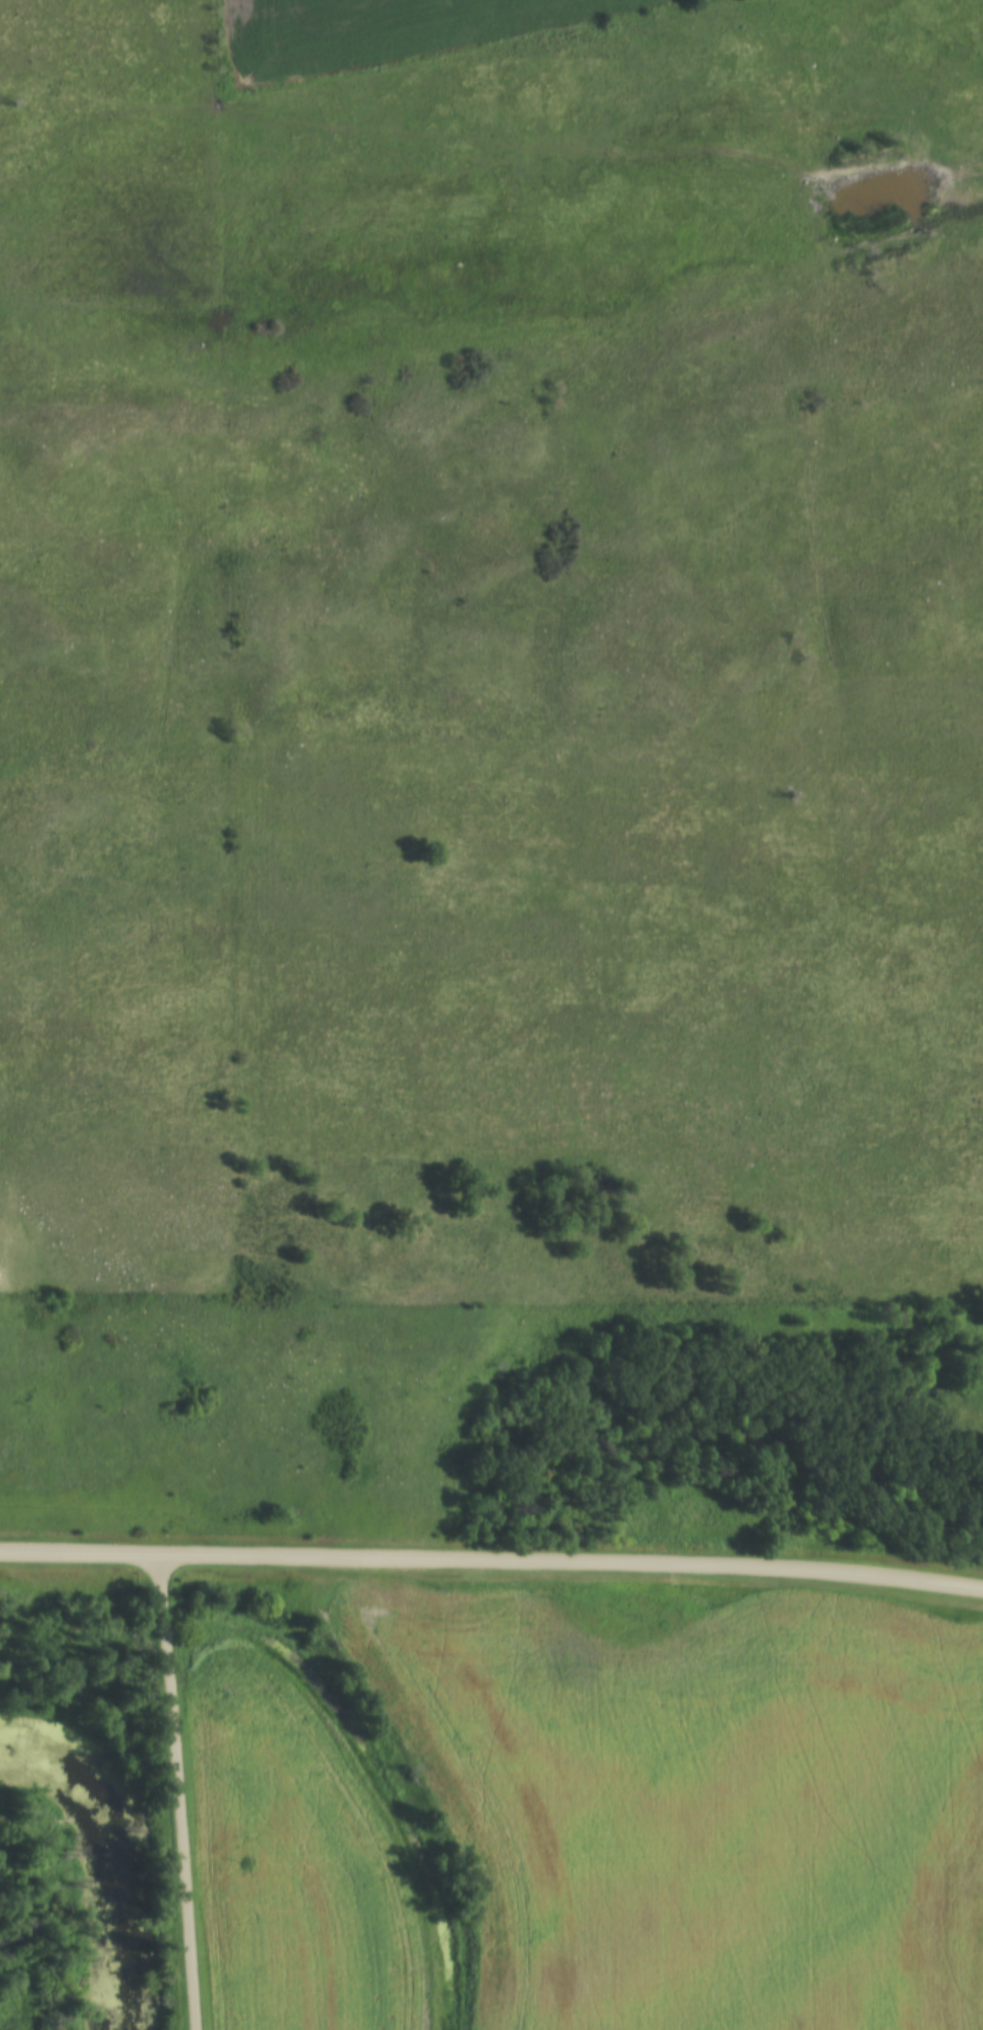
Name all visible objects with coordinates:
road: (491, 1557)
road: (174, 1789)

